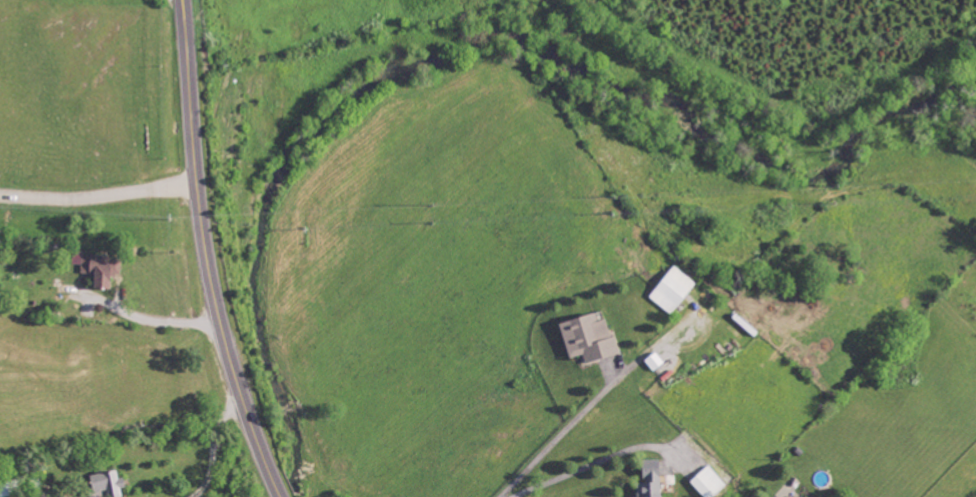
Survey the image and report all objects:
road: (98, 194)
road: (207, 253)
building: (102, 266)
building: (673, 288)
building: (590, 336)
road: (562, 431)
road: (596, 462)
building: (651, 479)
building: (708, 481)
building: (107, 483)
building: (805, 495)

